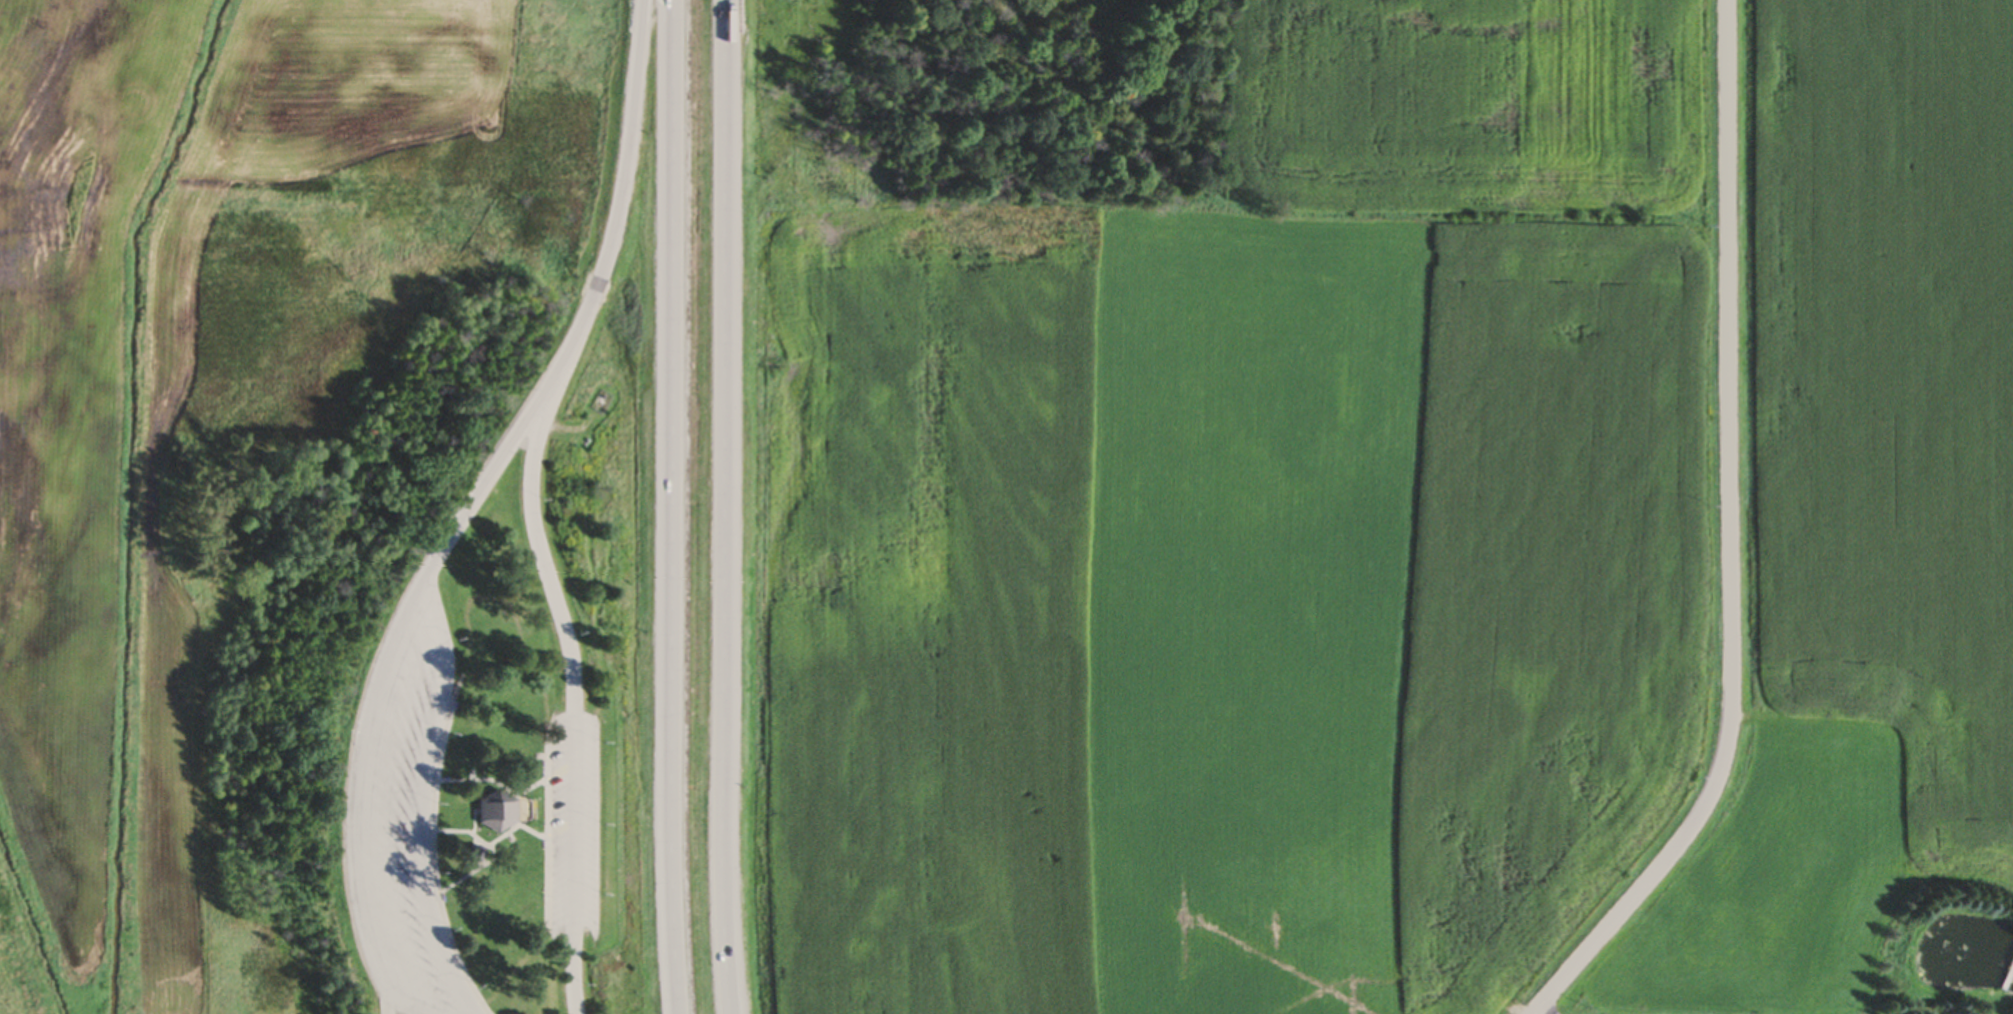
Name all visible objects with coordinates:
road: (626, 191)
road: (494, 473)
road: (672, 507)
road: (720, 507)
road: (1734, 540)
road: (542, 541)
road: (425, 806)
road: (357, 807)
building: (493, 813)
parking lot: (405, 815)
road: (576, 819)
parking lot: (574, 823)
building: (484, 858)
road: (577, 970)
road: (388, 999)
road: (1541, 1012)

